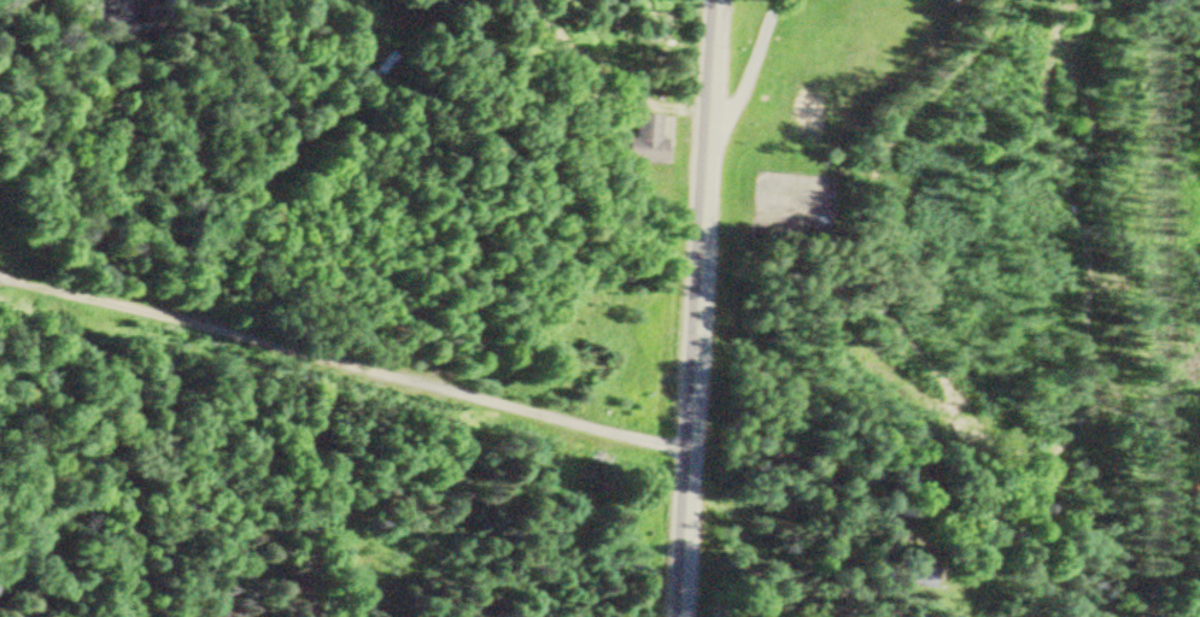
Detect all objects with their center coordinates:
park: (939, 127)
building: (645, 140)
road: (277, 164)
road: (693, 308)
road: (340, 368)
building: (914, 571)

